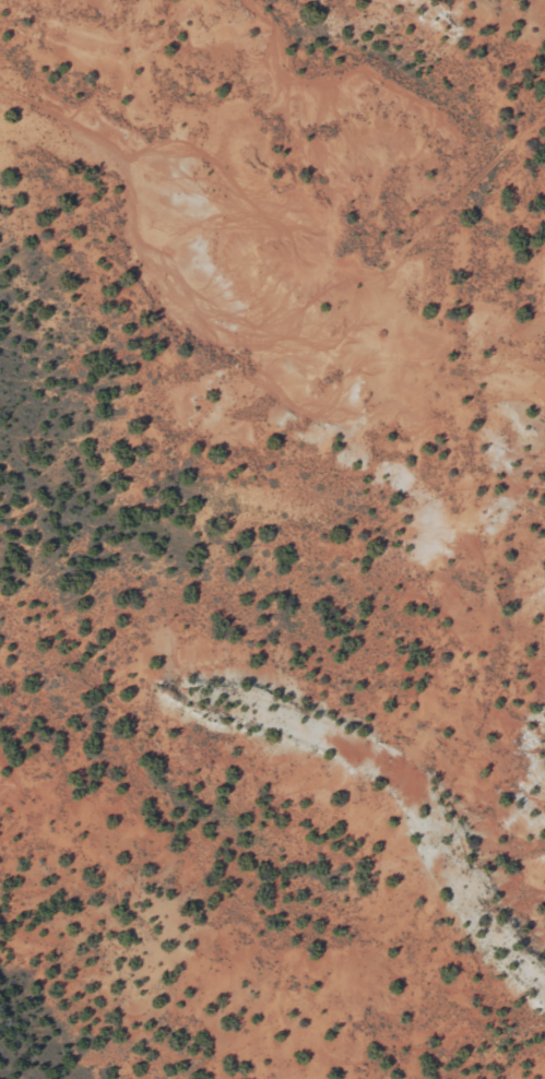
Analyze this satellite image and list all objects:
road: (295, 1)
road: (272, 2)

